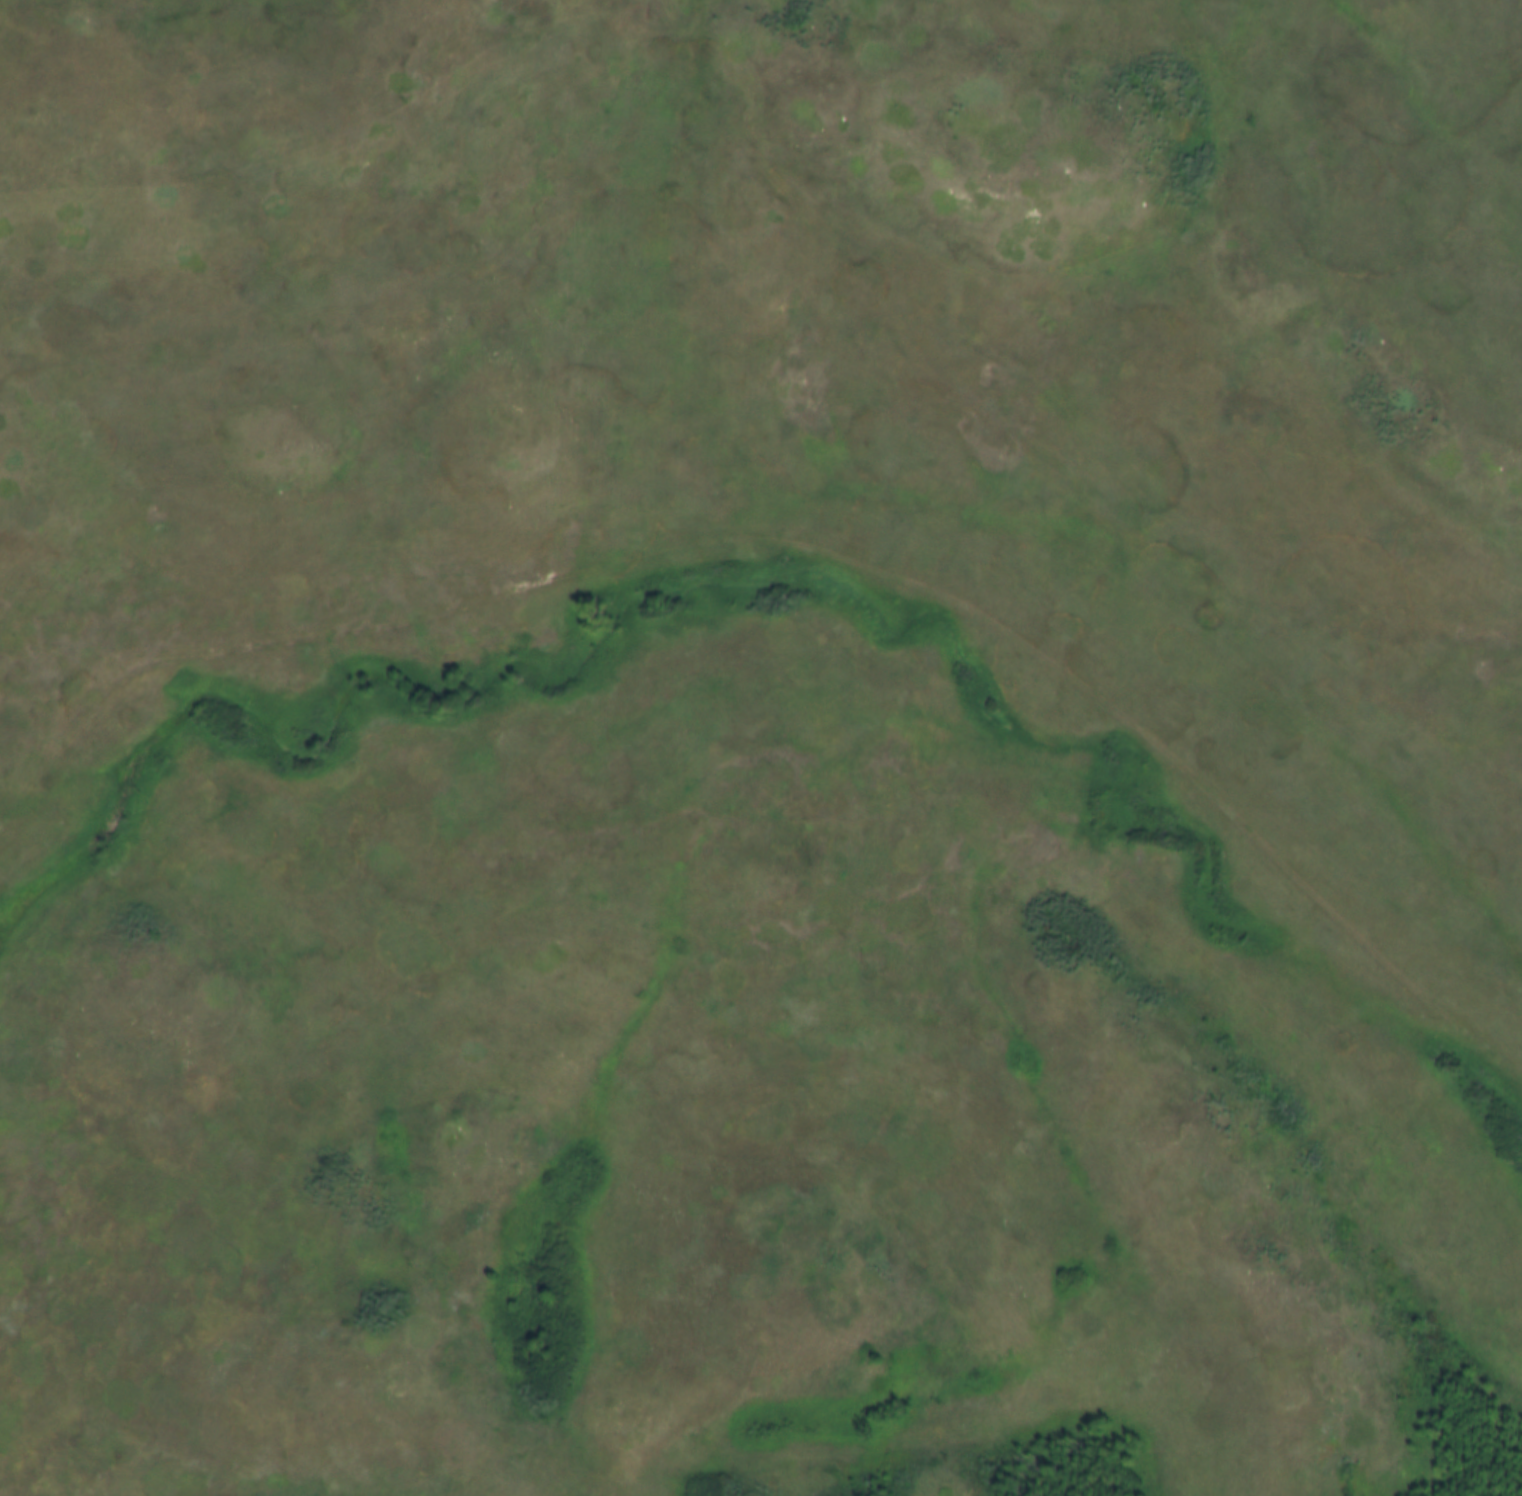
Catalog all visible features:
road: (811, 551)

